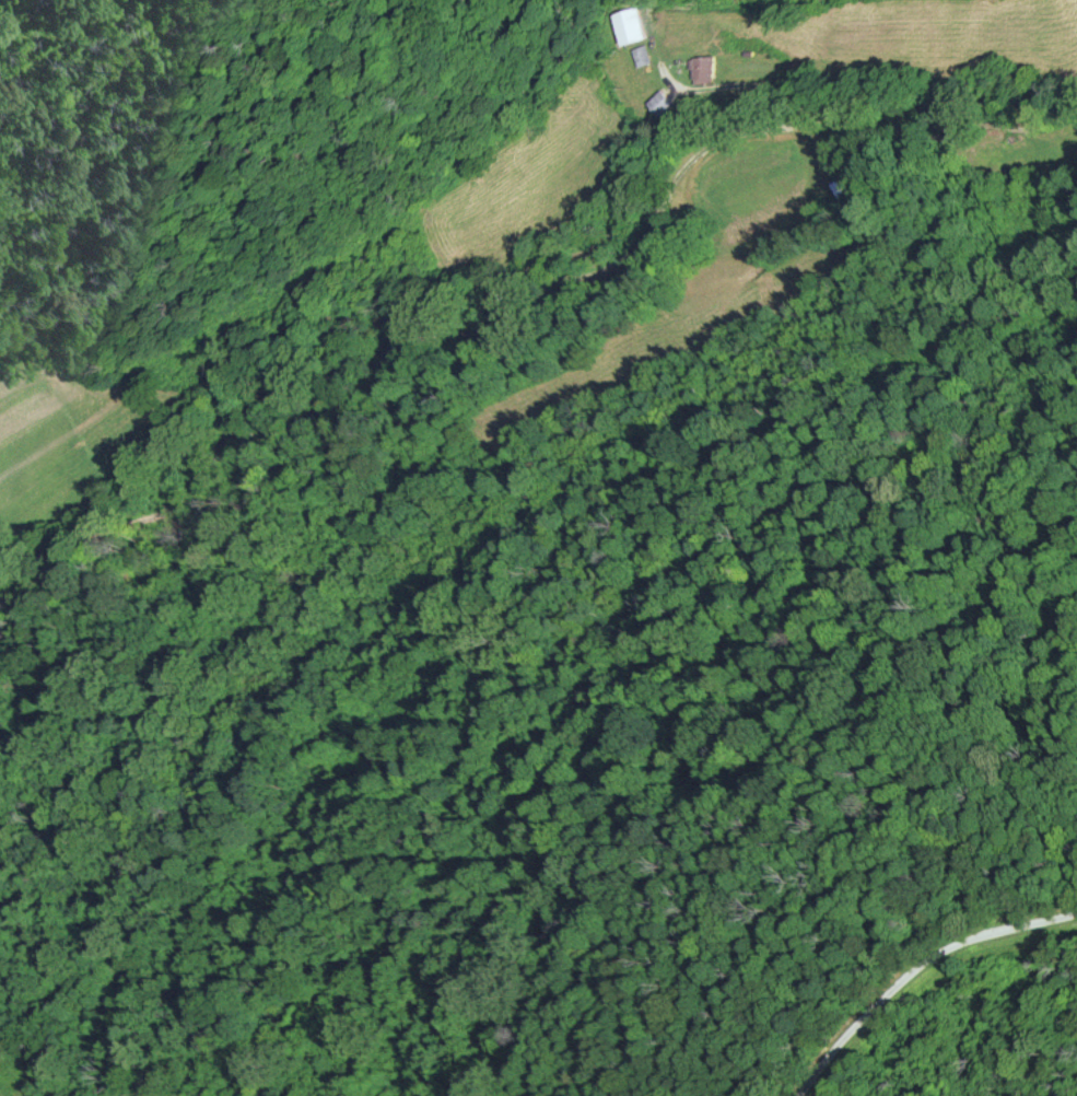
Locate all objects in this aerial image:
building: (630, 25)
building: (643, 55)
building: (704, 70)
building: (664, 103)
building: (848, 193)
road: (518, 300)
road: (914, 968)

